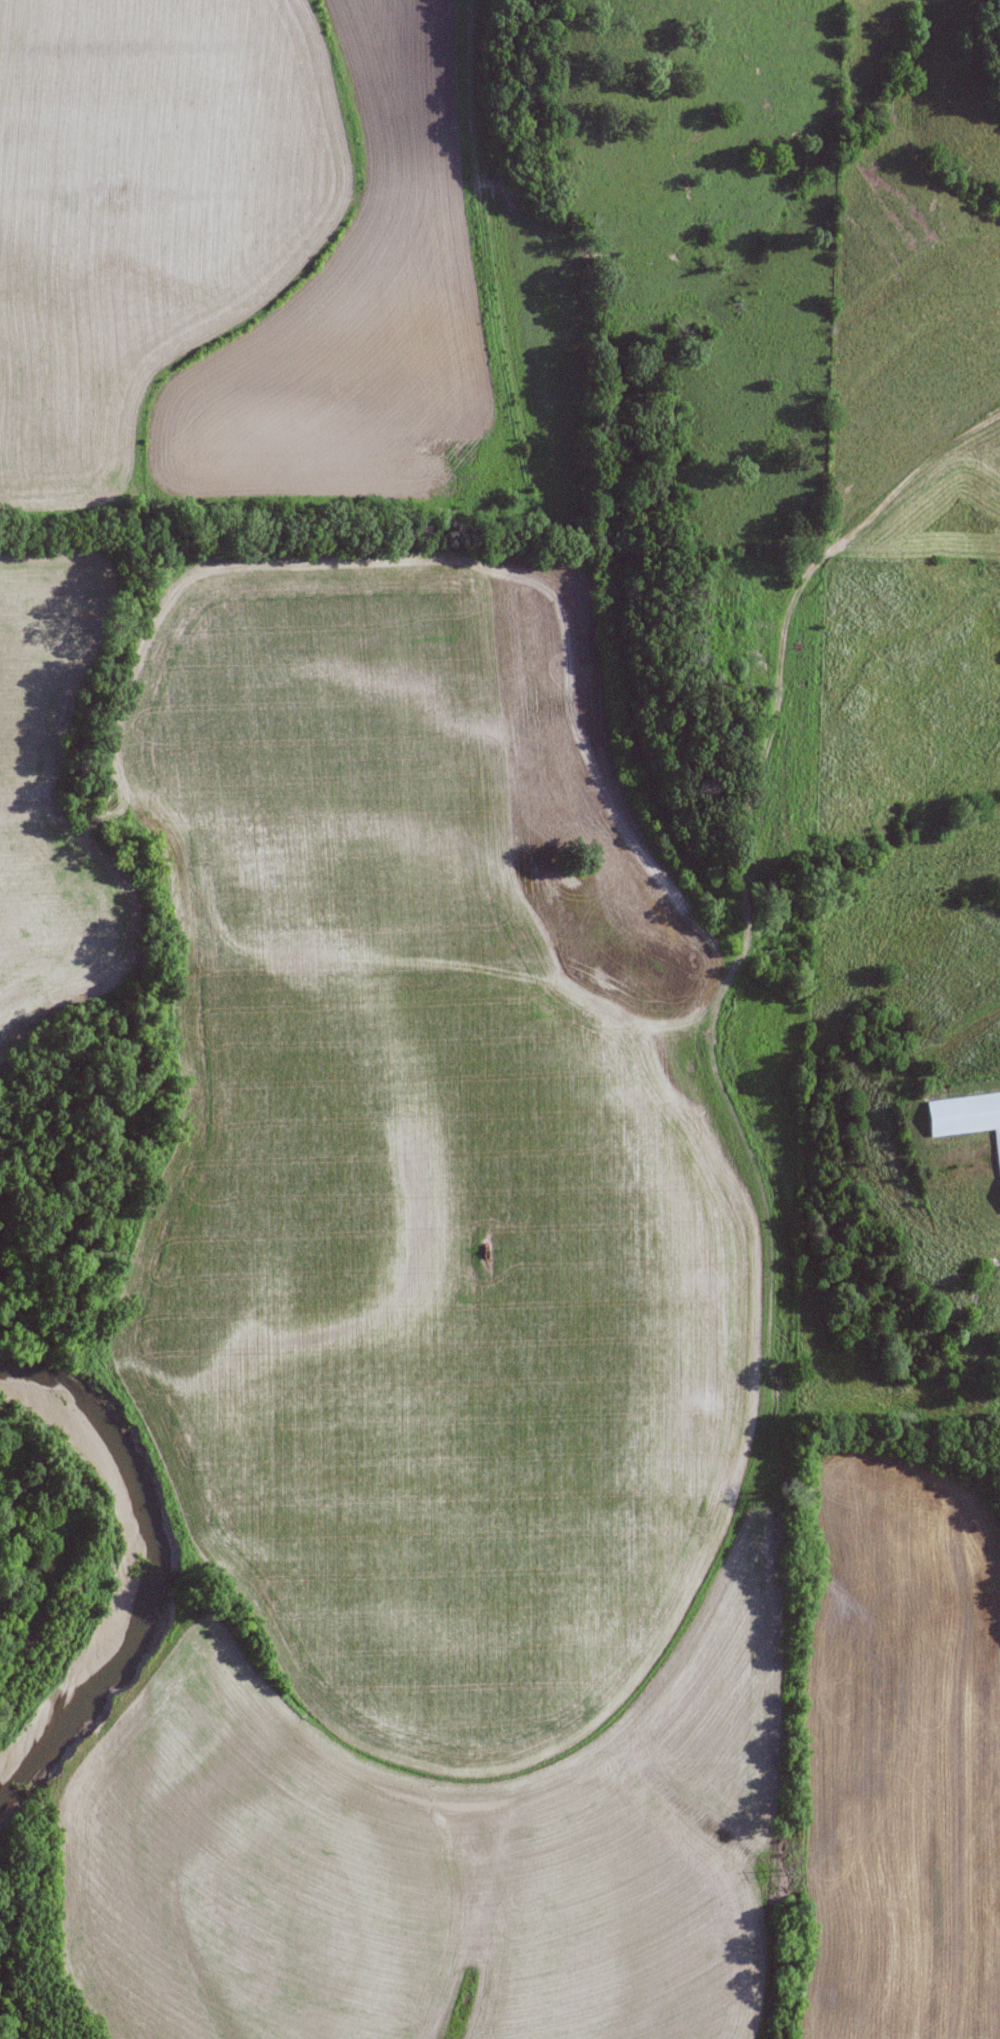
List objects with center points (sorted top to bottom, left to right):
crop: (273, 267)
crop: (53, 786)
building: (964, 1115)
crop: (435, 1353)
river: (128, 1567)

